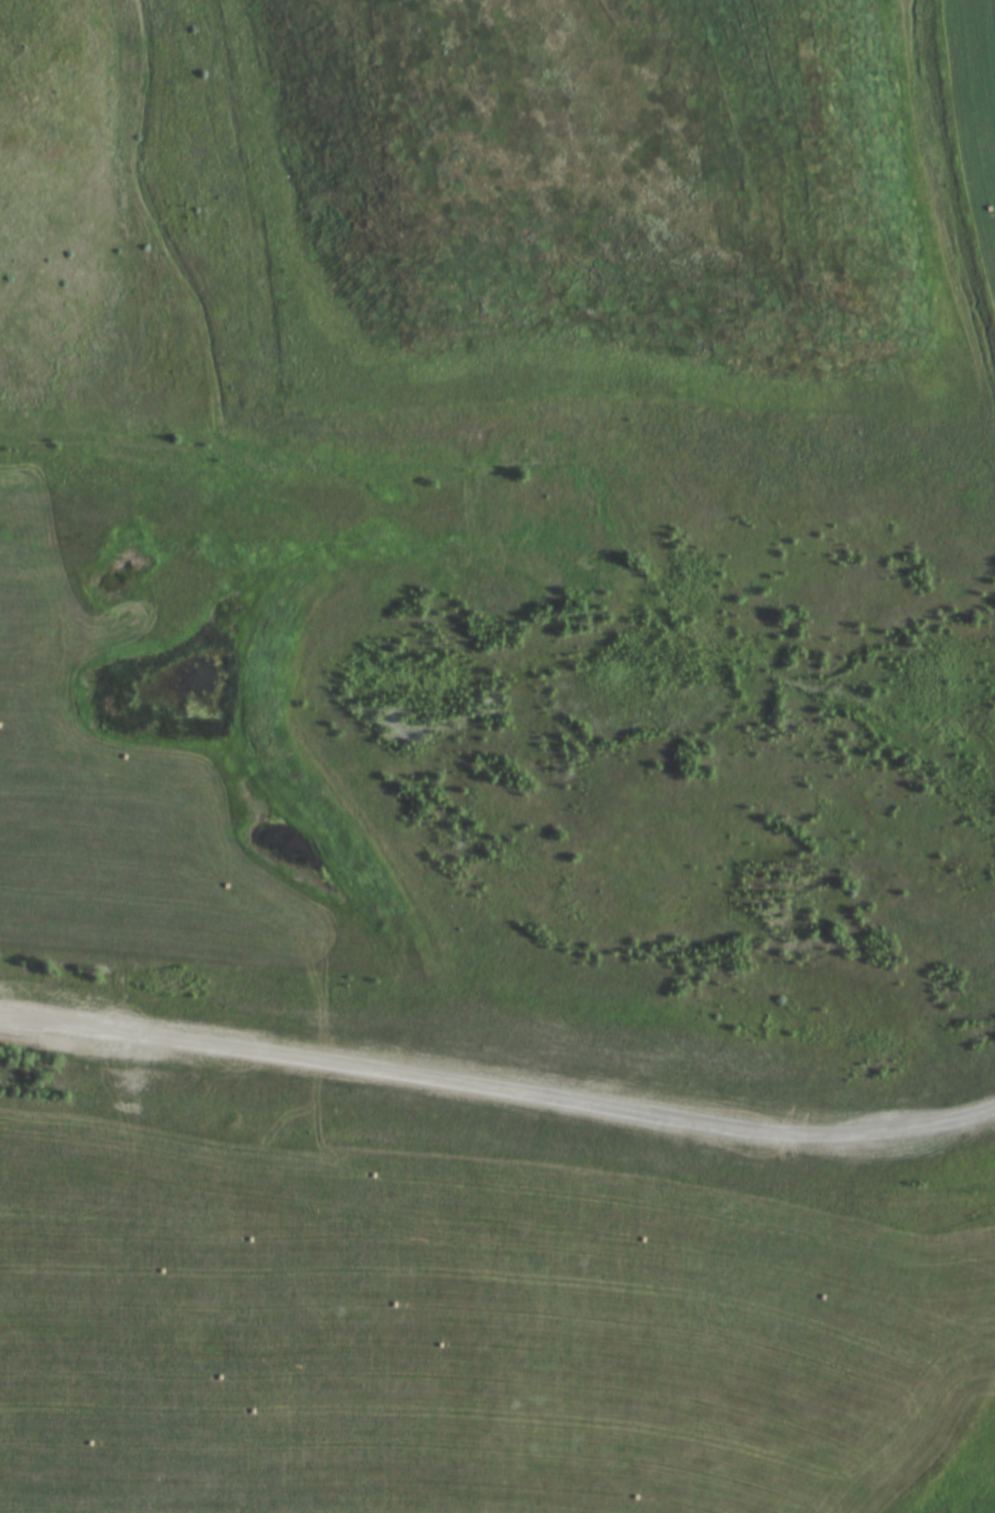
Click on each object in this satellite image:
quarry: (570, 453)
road: (497, 1066)

